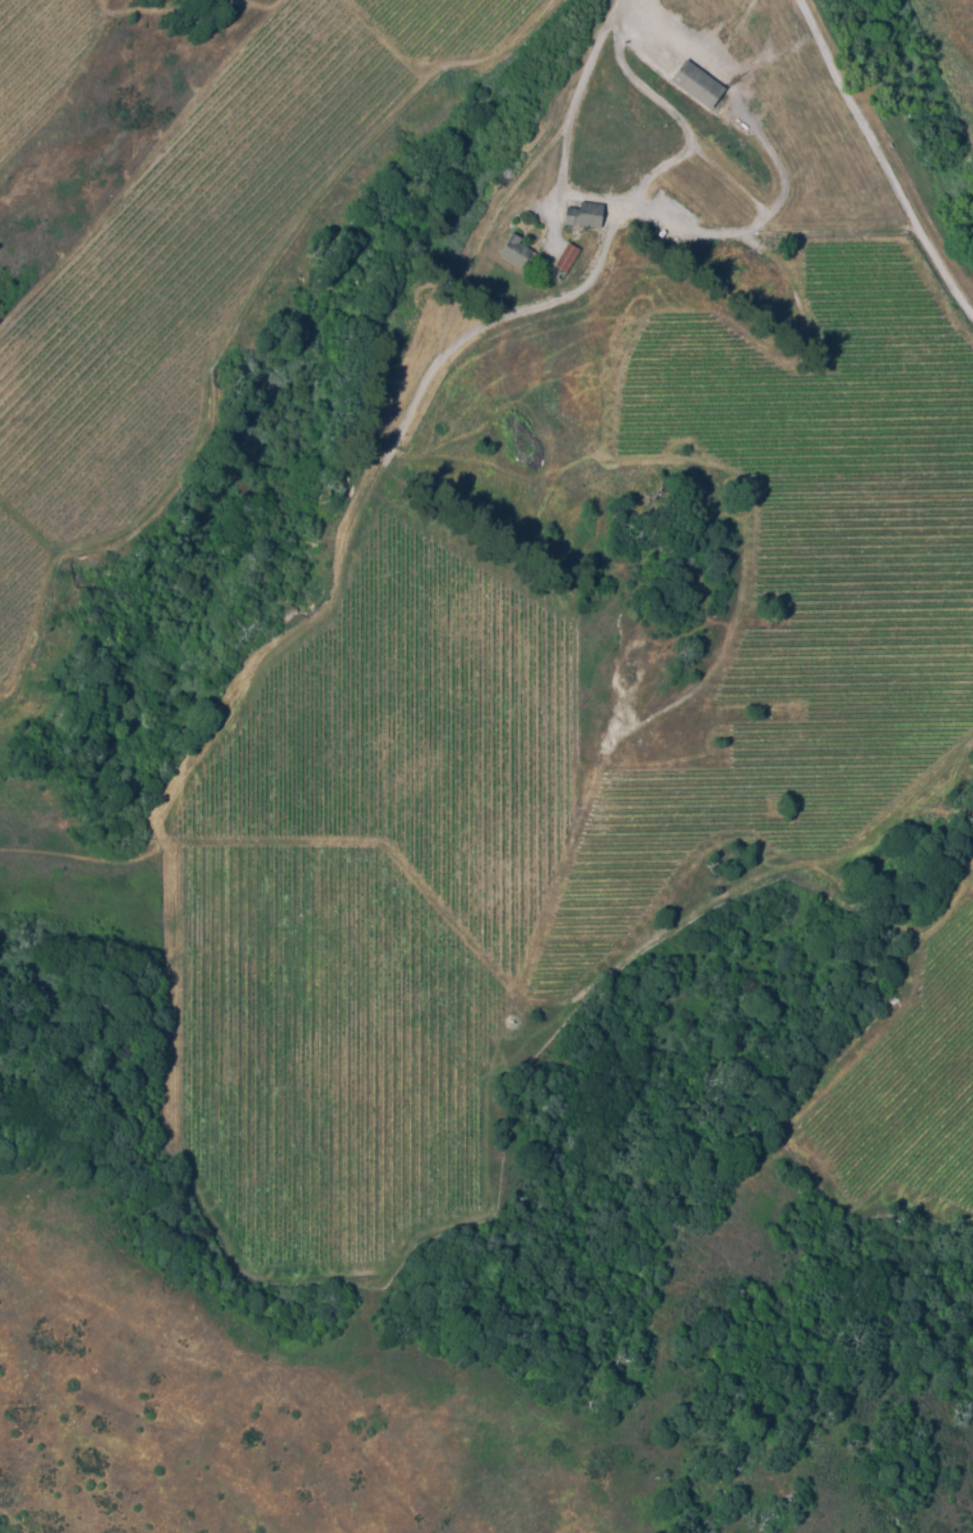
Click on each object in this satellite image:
crop: (445, 25)
crop: (39, 60)
road: (577, 88)
building: (694, 88)
building: (502, 176)
building: (580, 220)
building: (509, 256)
building: (562, 261)
crop: (167, 292)
crop: (803, 589)
crop: (408, 740)
crop: (320, 1053)
crop: (912, 1089)

